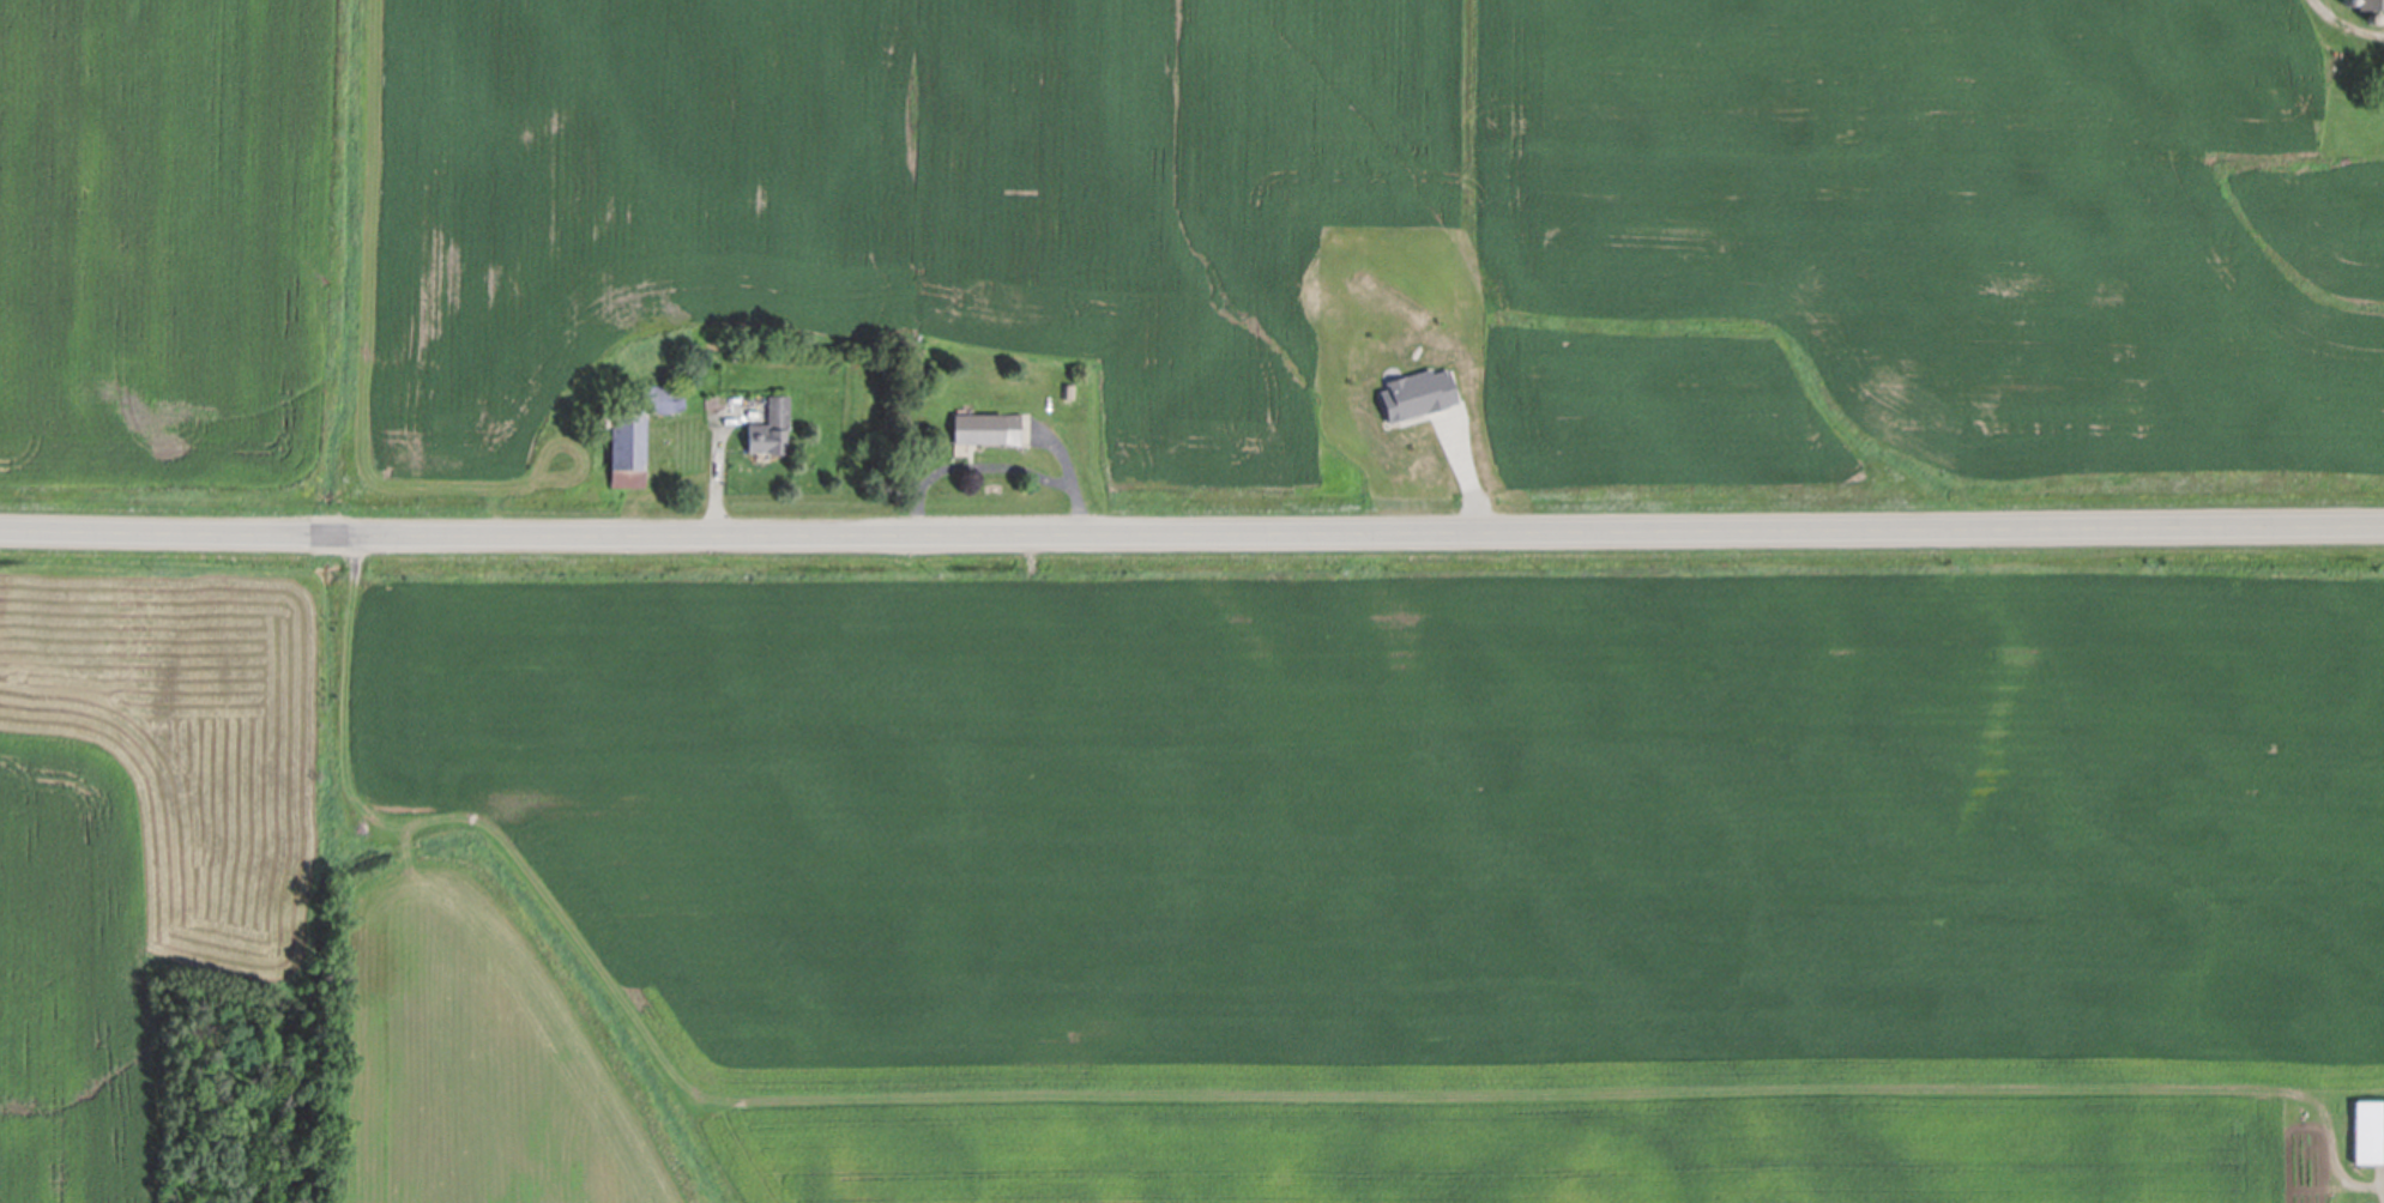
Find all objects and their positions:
building: (2348, 0)
building: (2371, 0)
building: (2372, 14)
road: (2344, 24)
building: (1069, 388)
building: (728, 407)
building: (599, 419)
building: (771, 424)
building: (986, 424)
building: (636, 429)
road: (994, 465)
road: (718, 471)
road: (1191, 537)
building: (2368, 1129)

